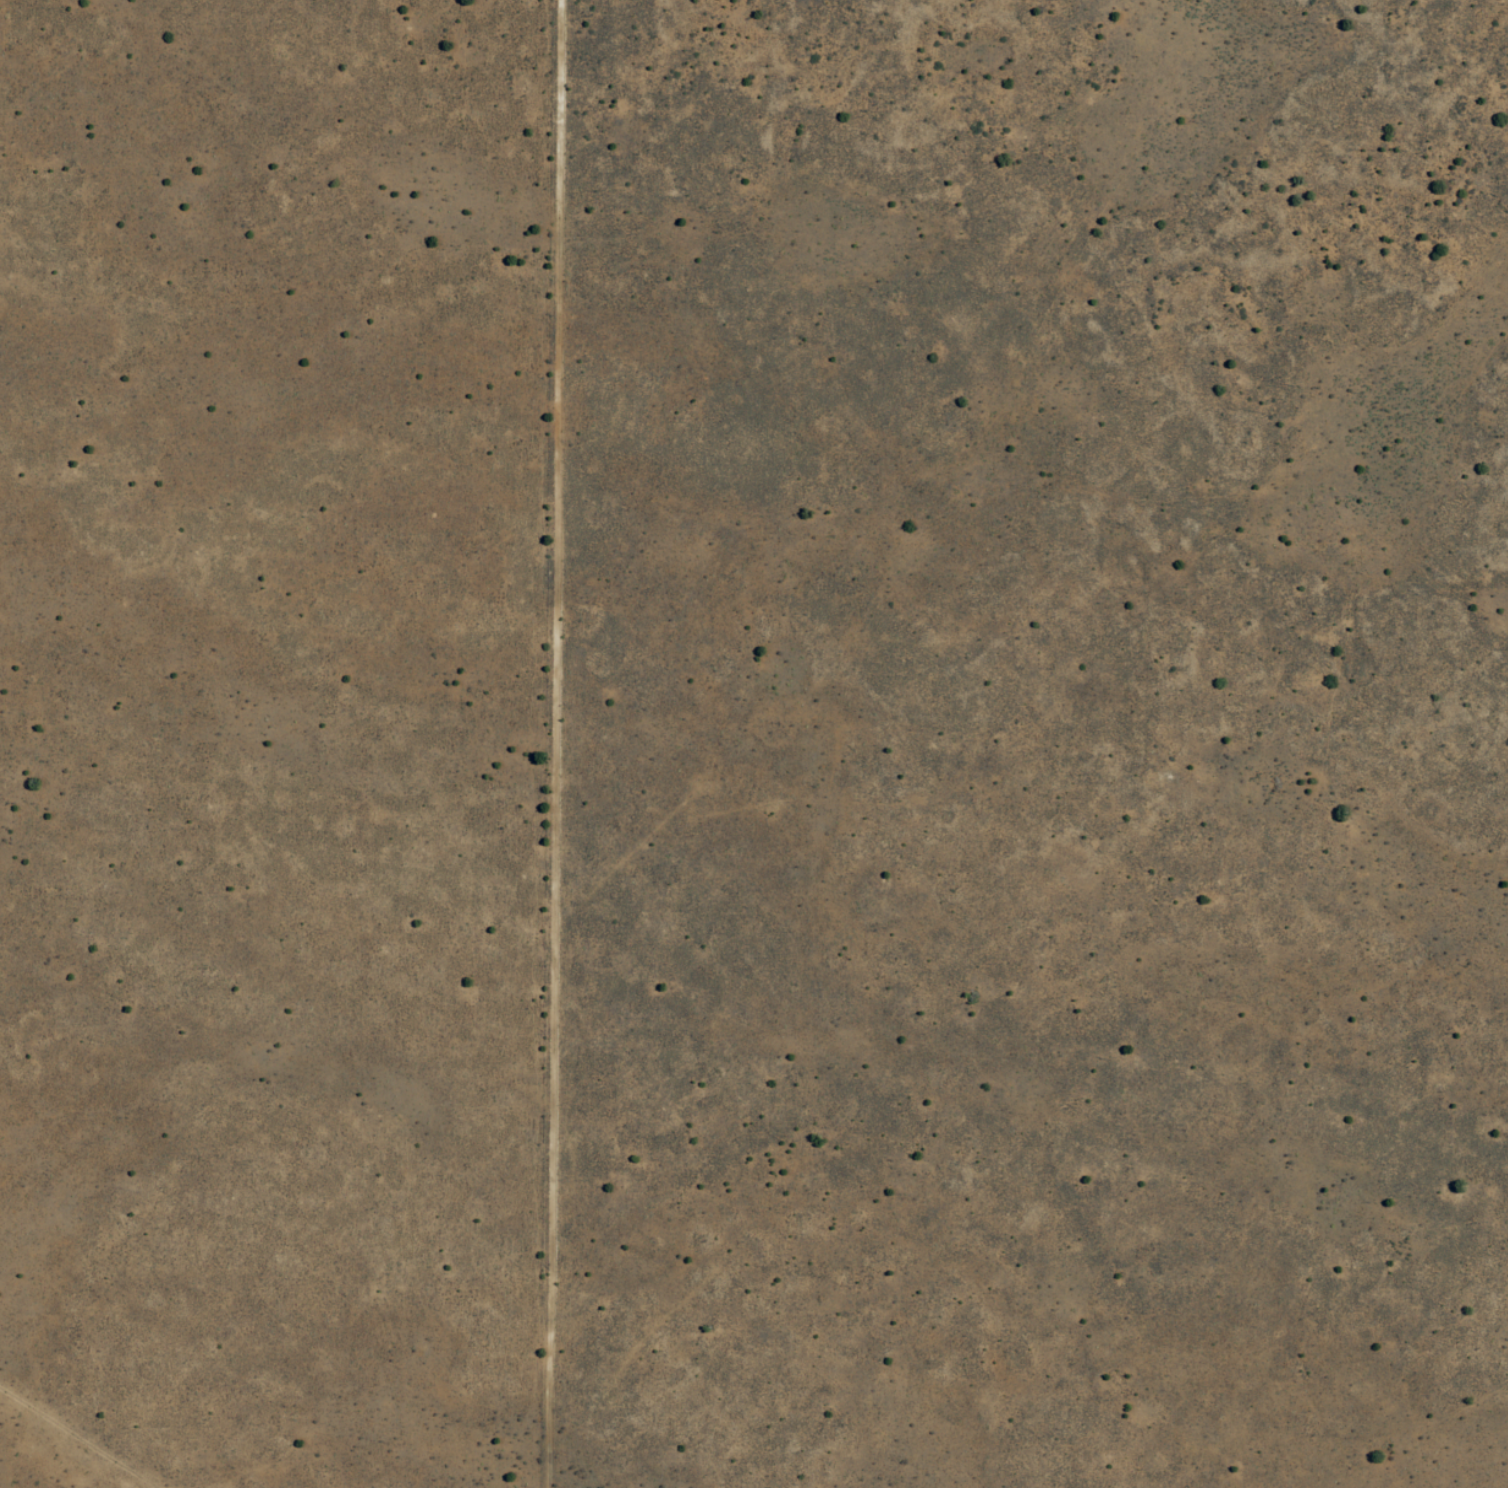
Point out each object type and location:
road: (111, 1412)

